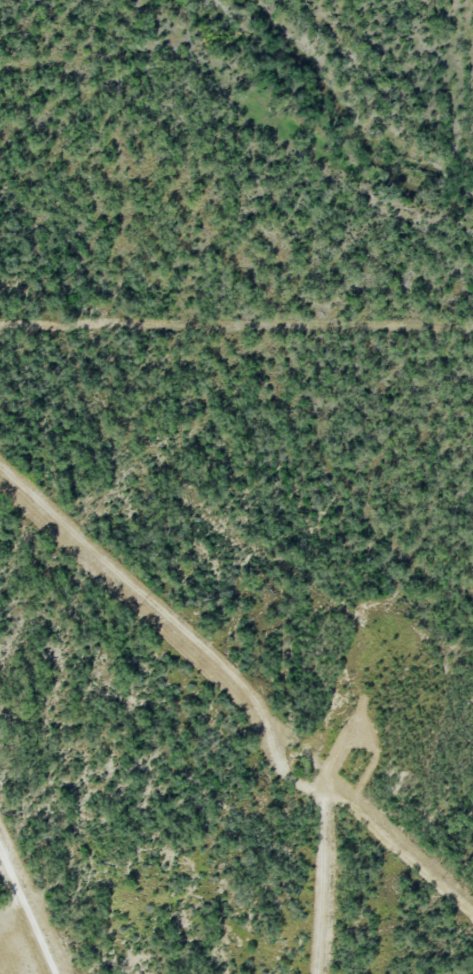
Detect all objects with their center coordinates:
road: (27, 910)

